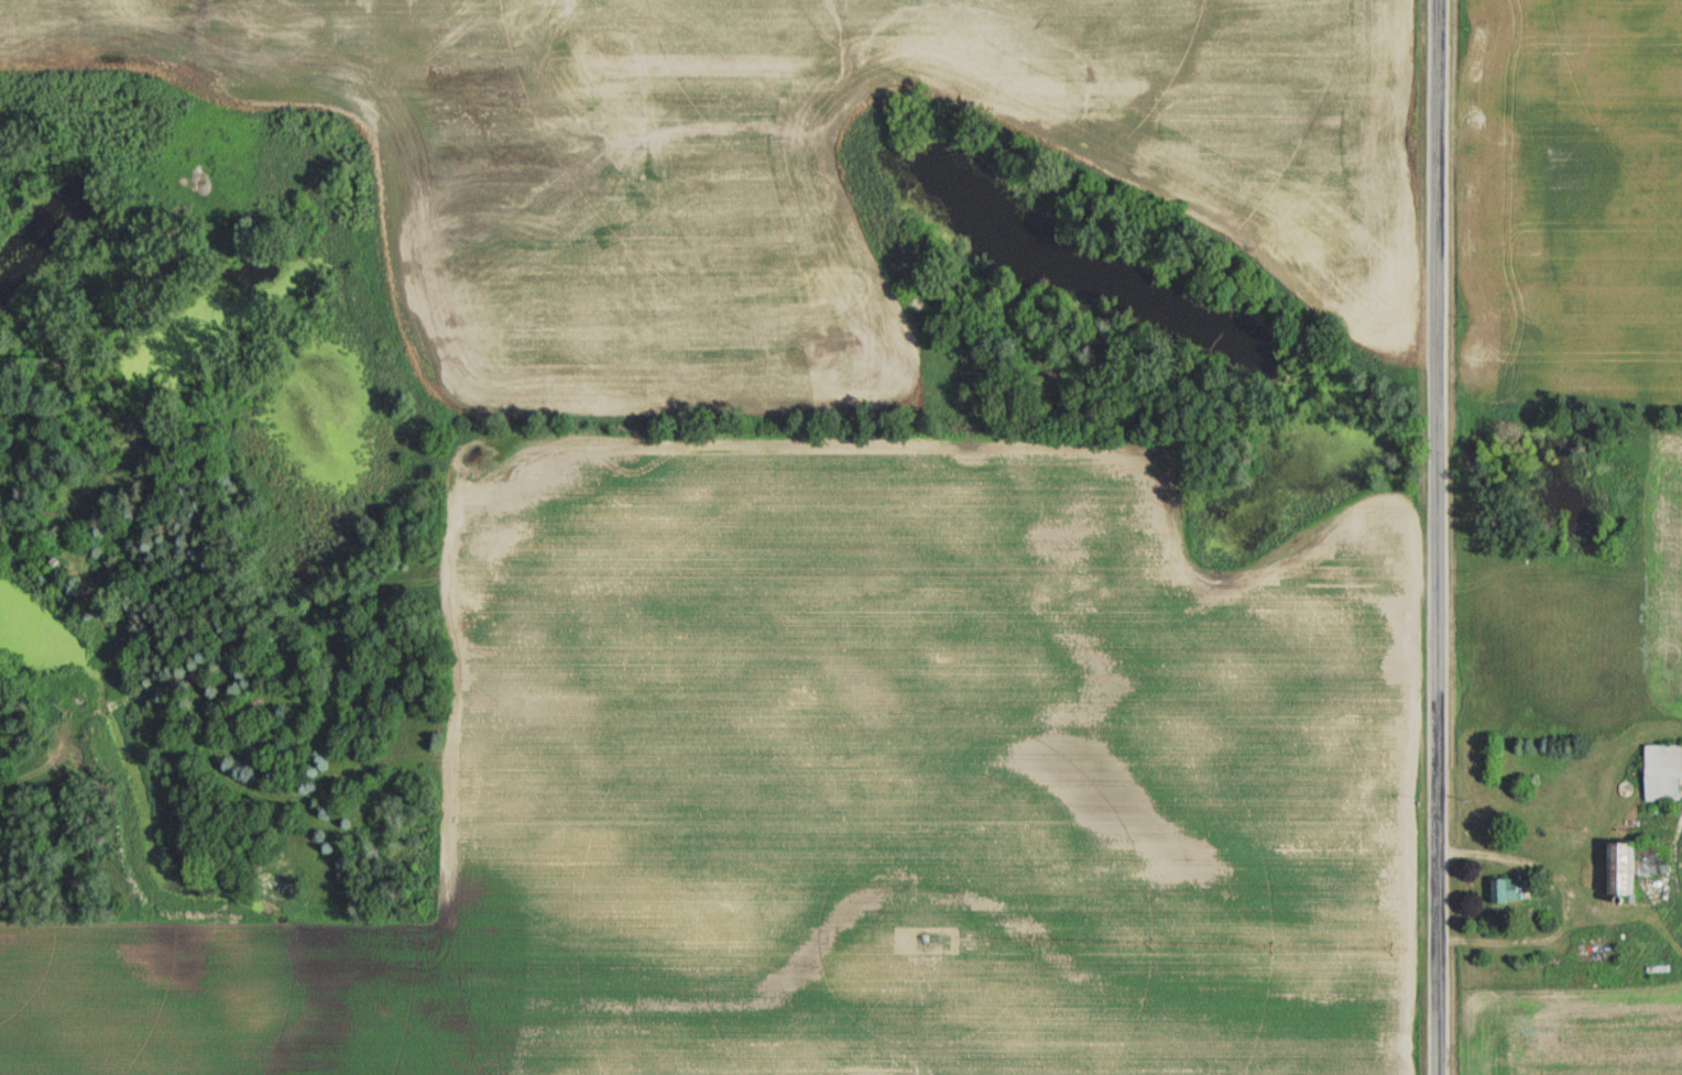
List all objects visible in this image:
road: (1440, 537)
building: (1662, 772)
building: (1652, 858)
building: (1617, 867)
building: (1500, 890)
road: (1564, 899)

